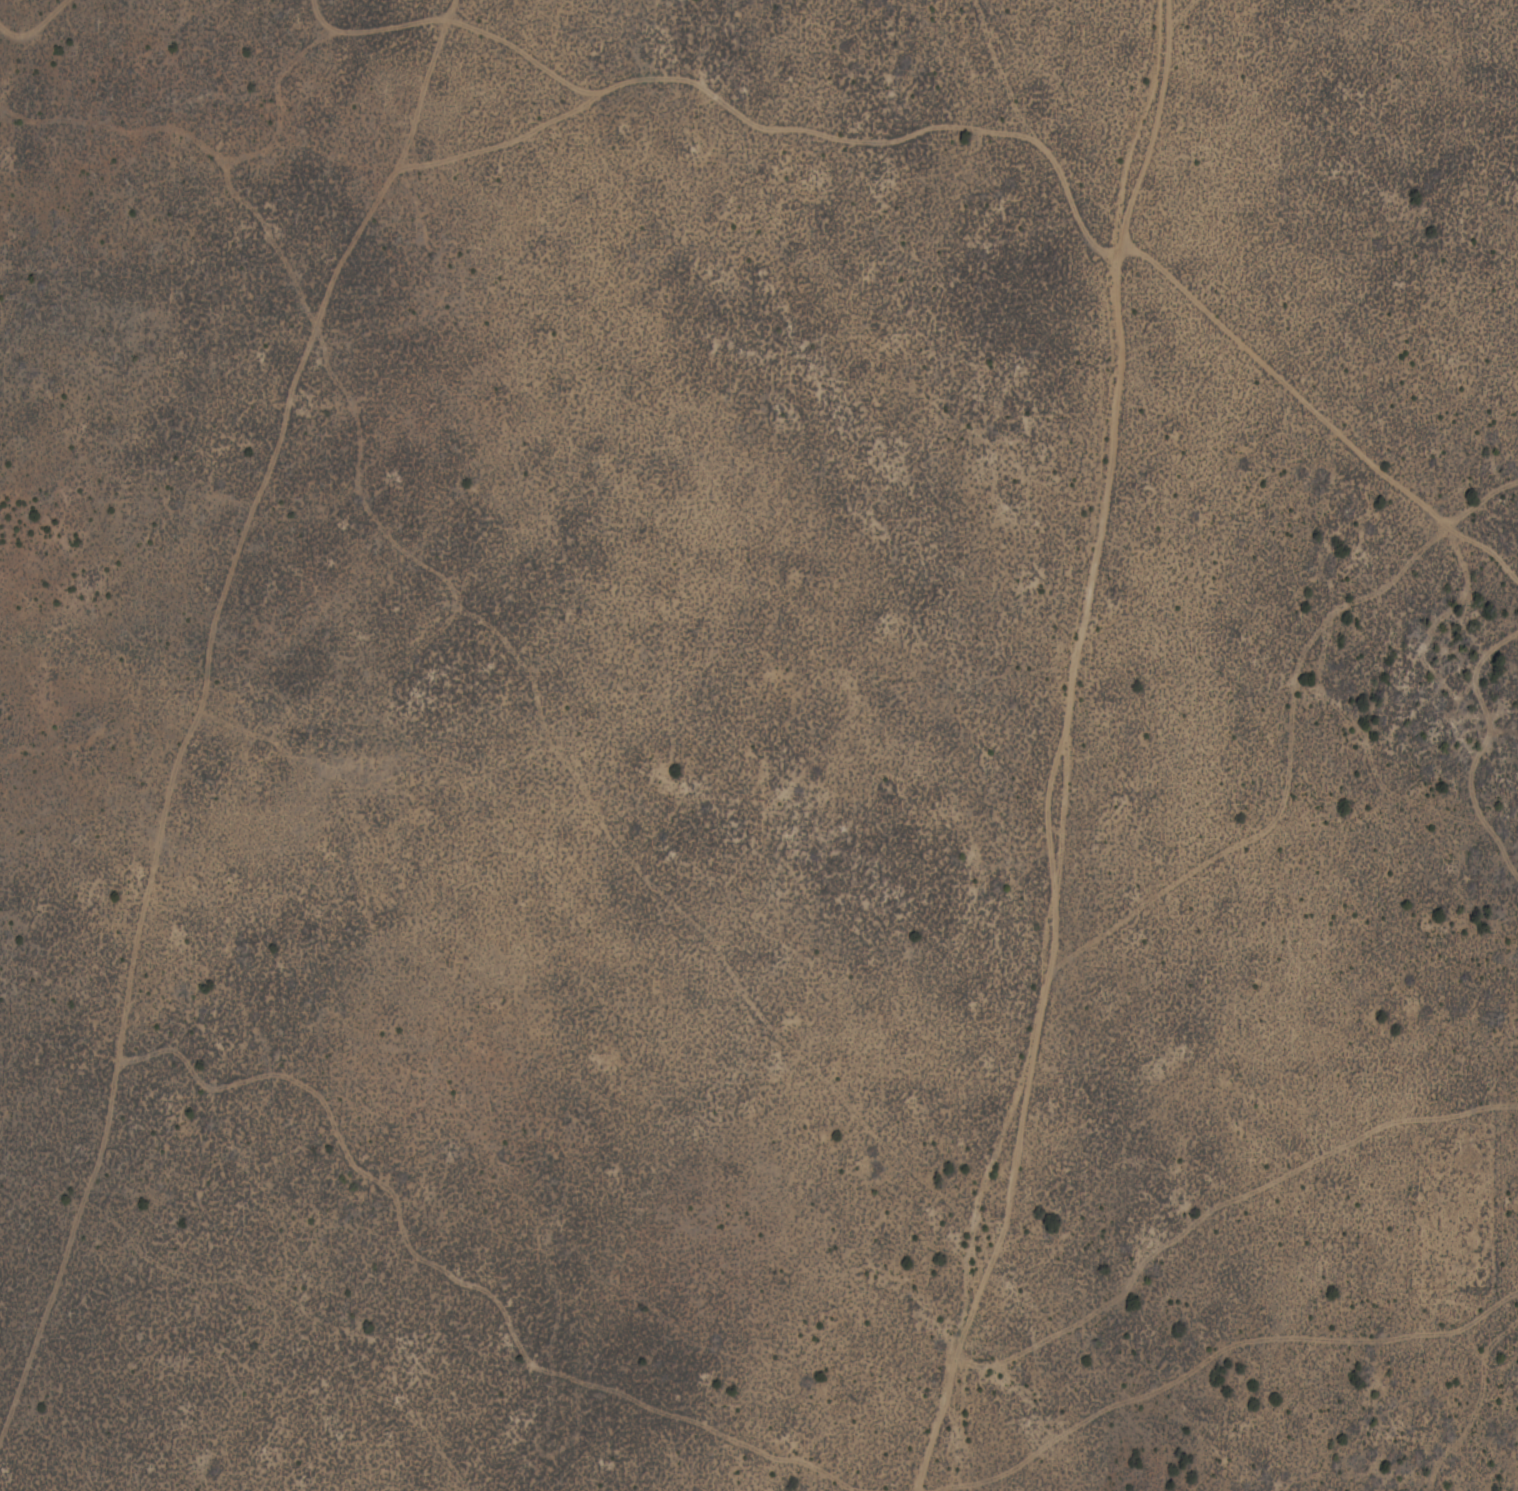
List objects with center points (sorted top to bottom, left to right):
road: (1122, 751)

